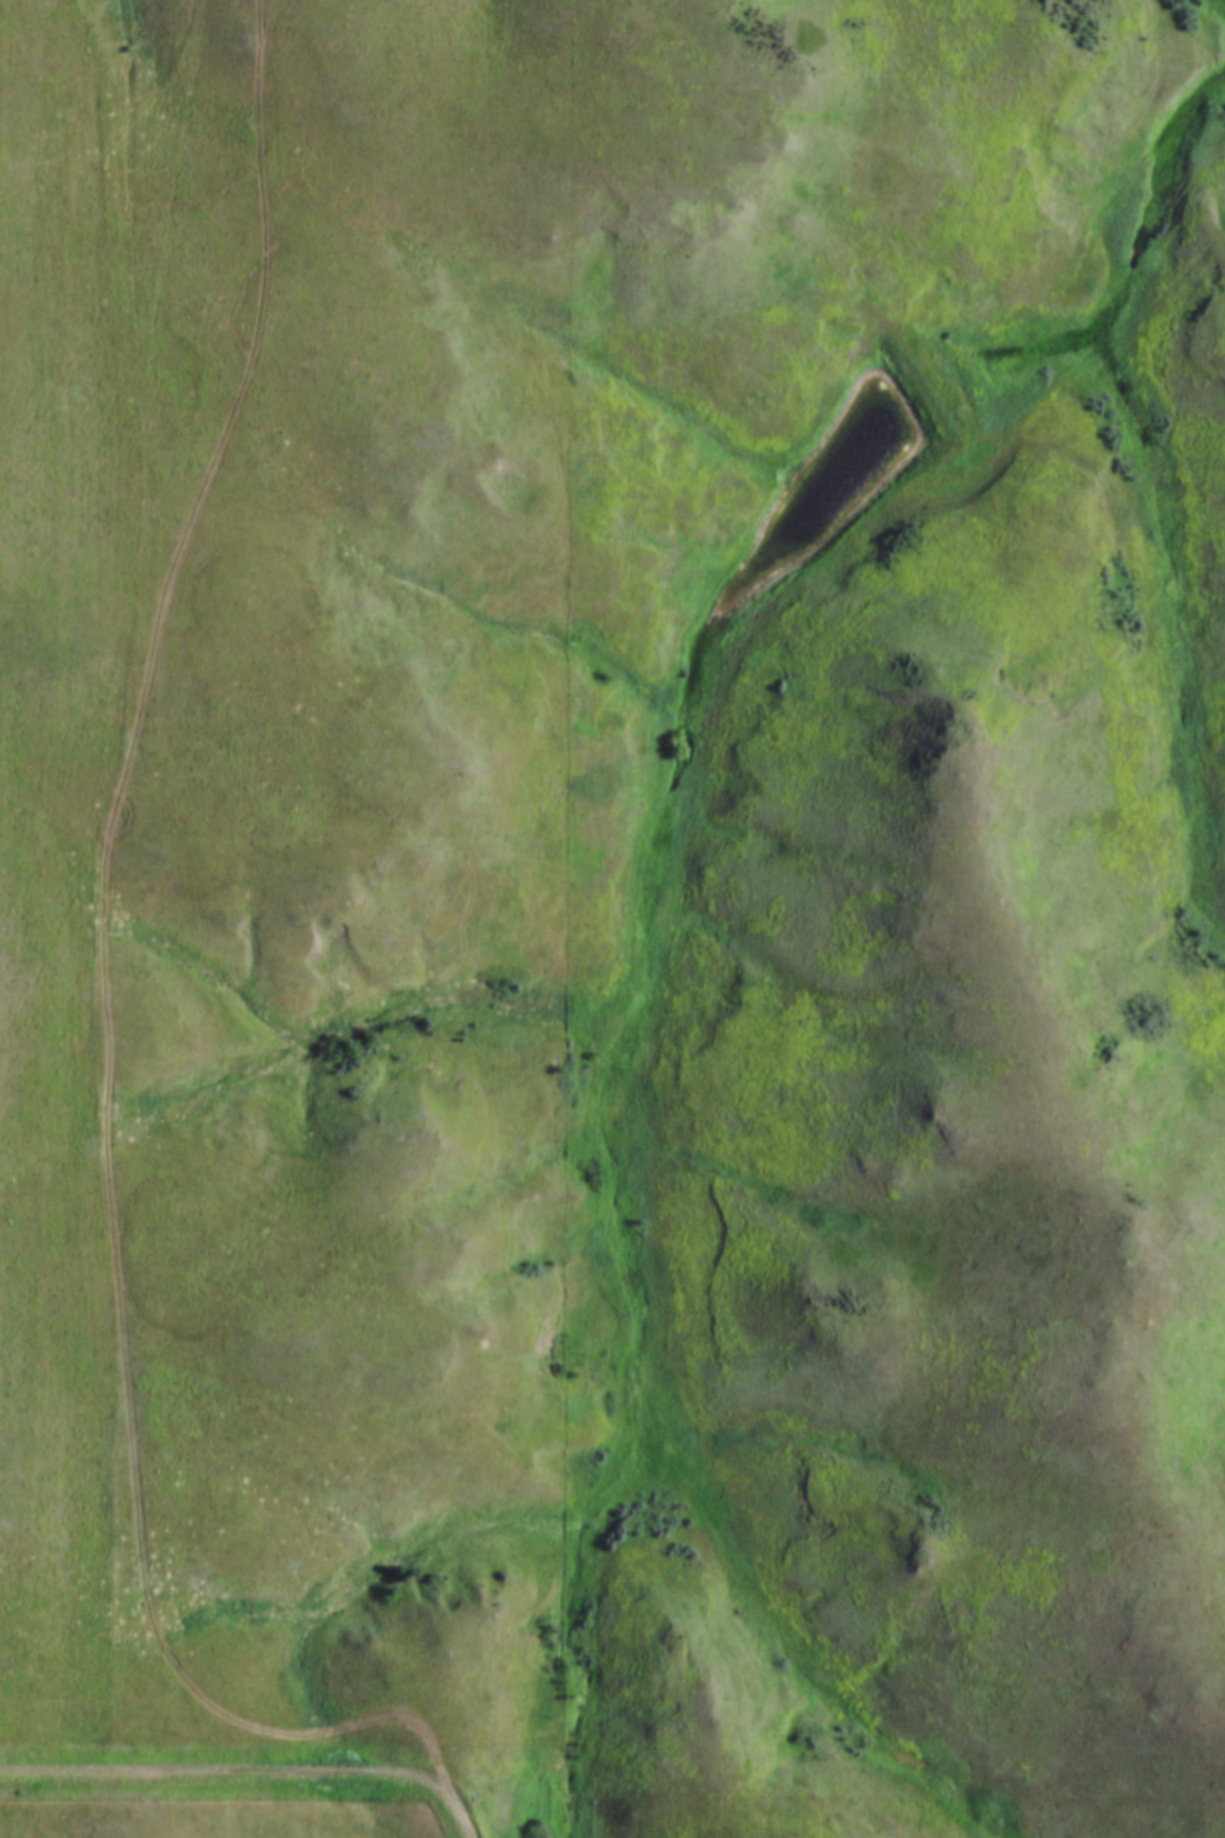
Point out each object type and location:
road: (214, 1775)
road: (453, 1805)

